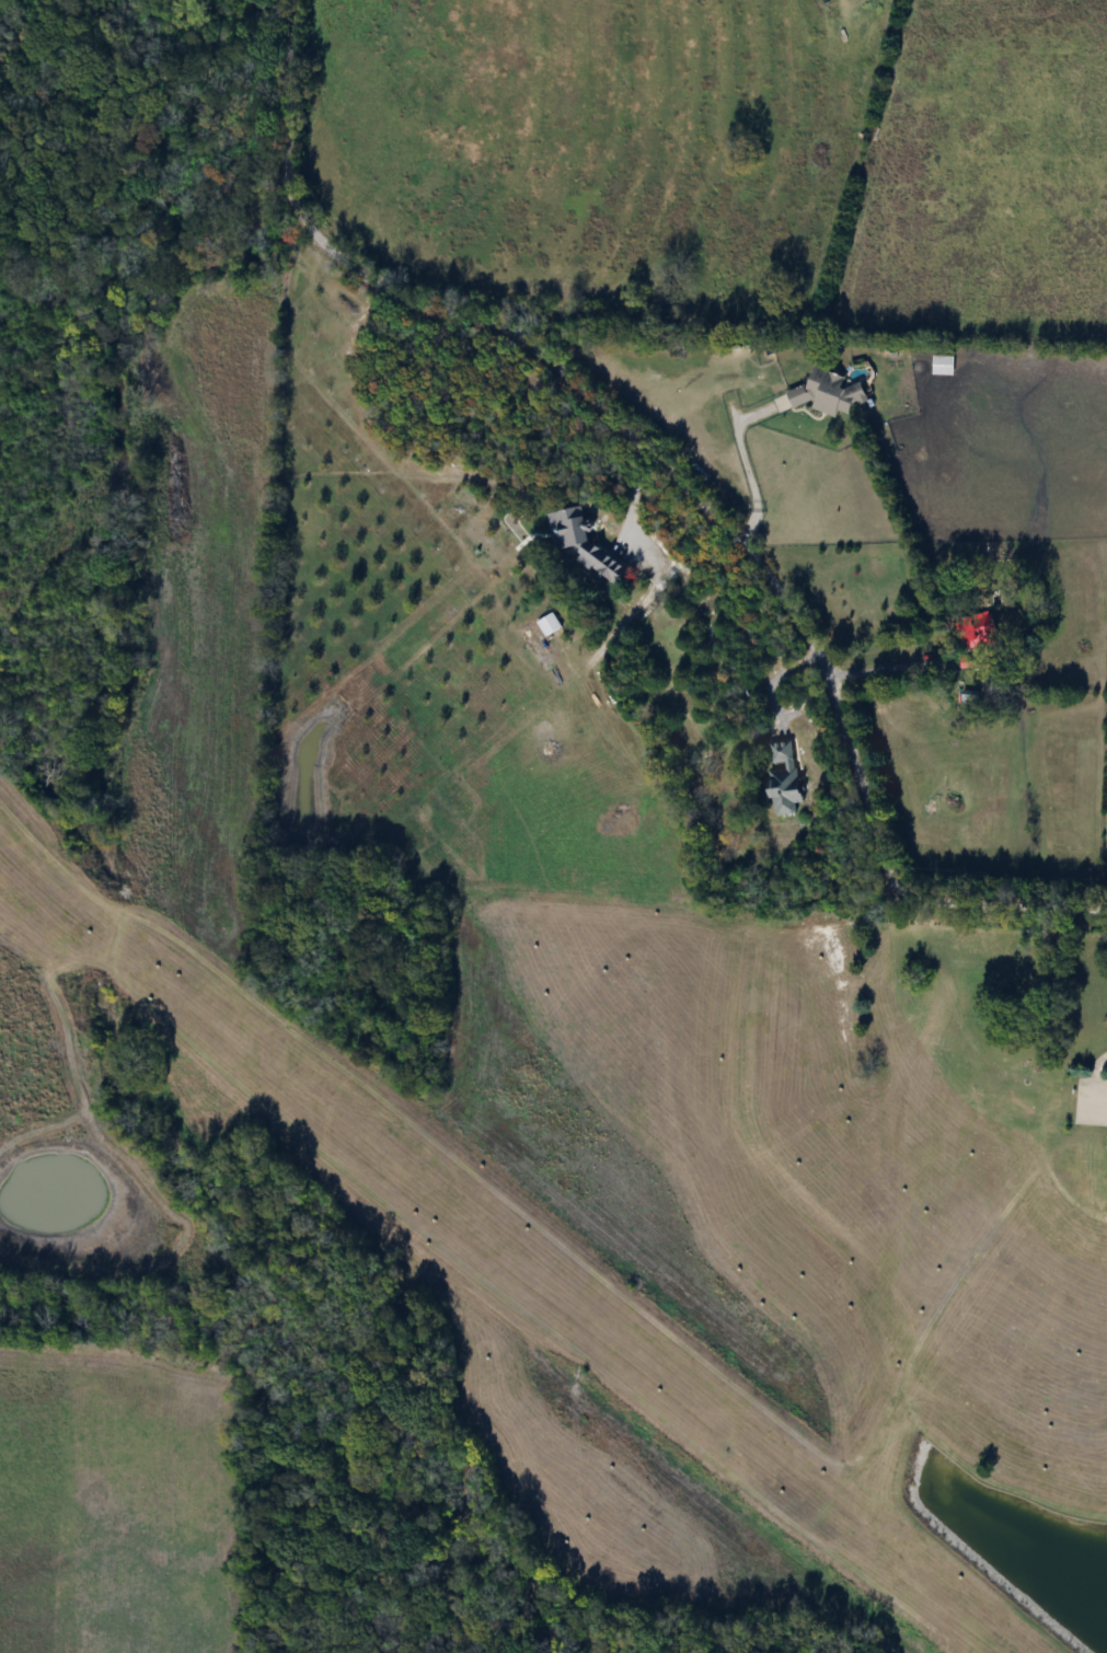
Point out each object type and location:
road: (281, 113)
building: (823, 393)
road: (741, 462)
building: (578, 543)
road: (751, 557)
building: (545, 624)
road: (879, 657)
road: (773, 683)
building: (780, 777)

